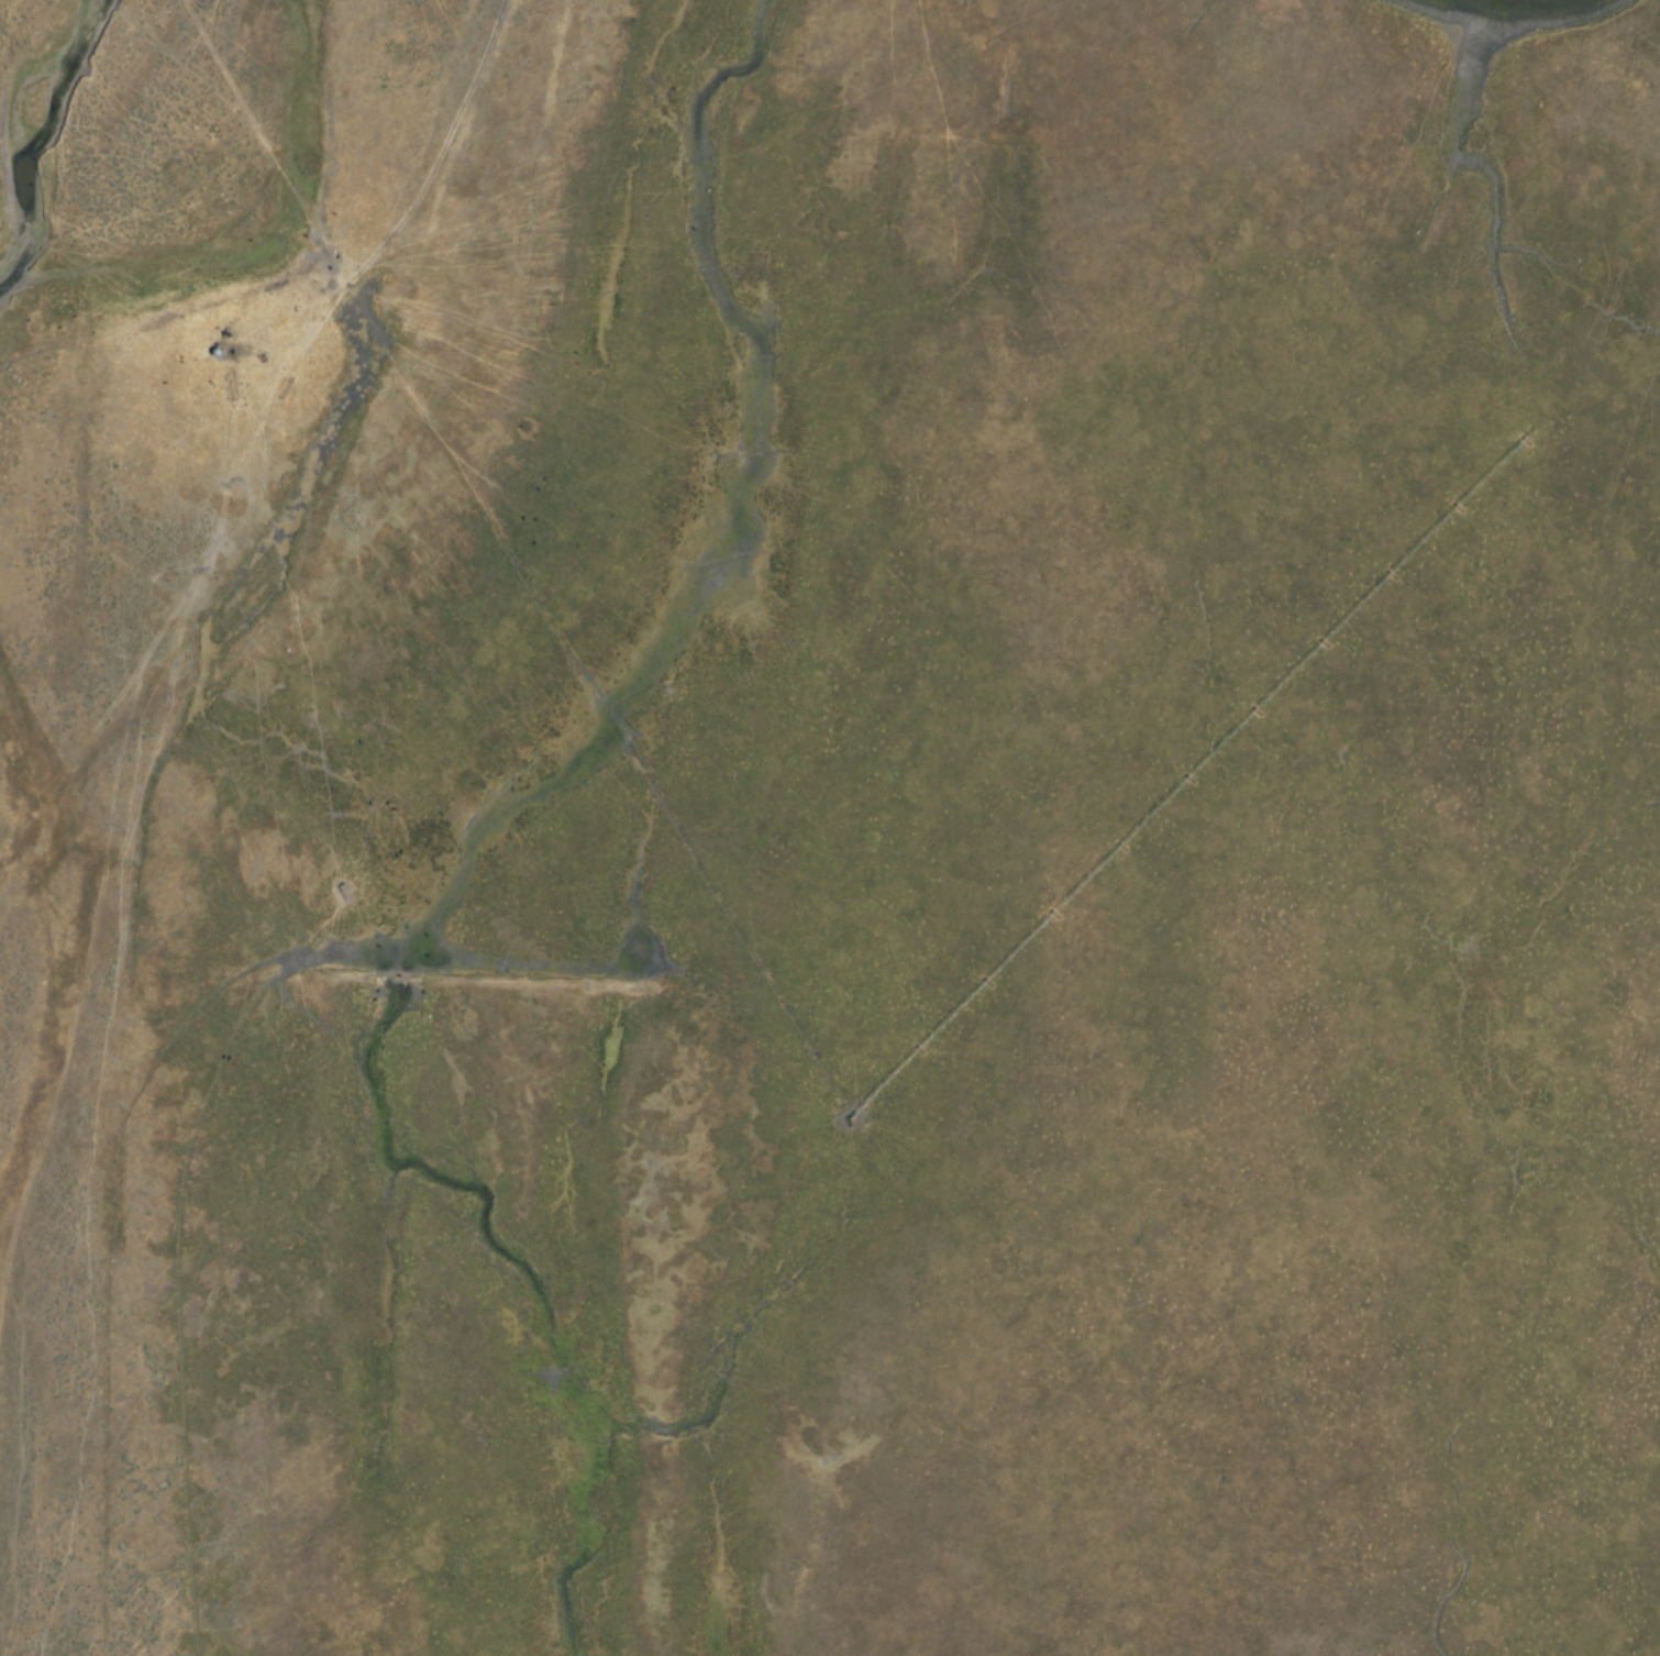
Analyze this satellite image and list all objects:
road: (435, 166)

